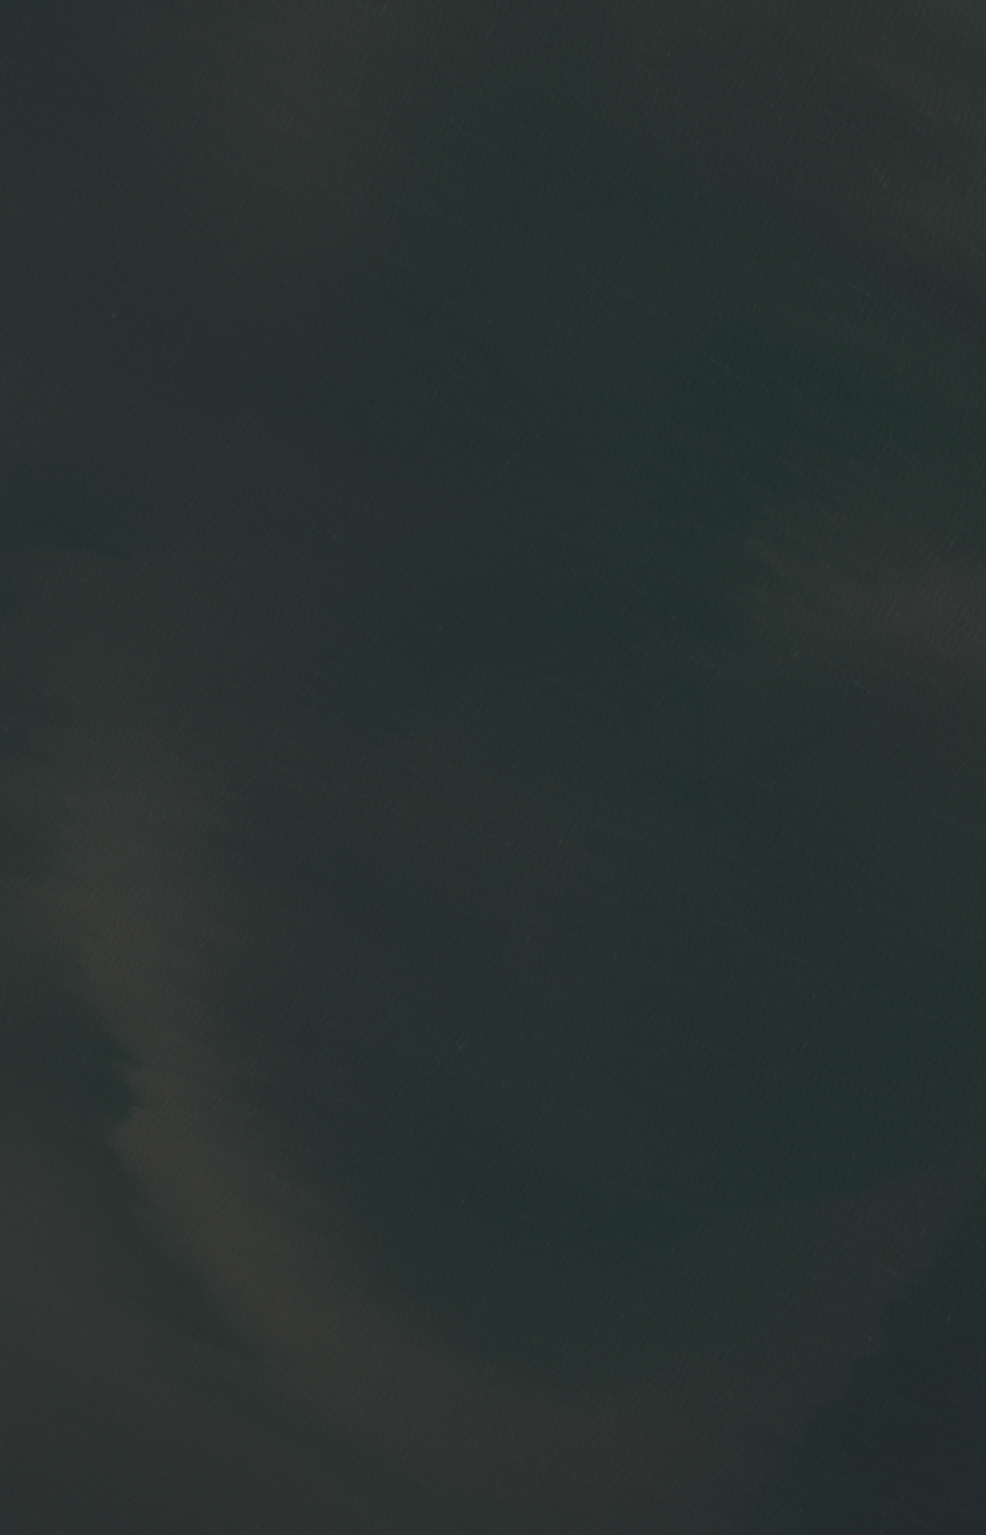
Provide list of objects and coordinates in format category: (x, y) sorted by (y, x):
river: (711, 339)

